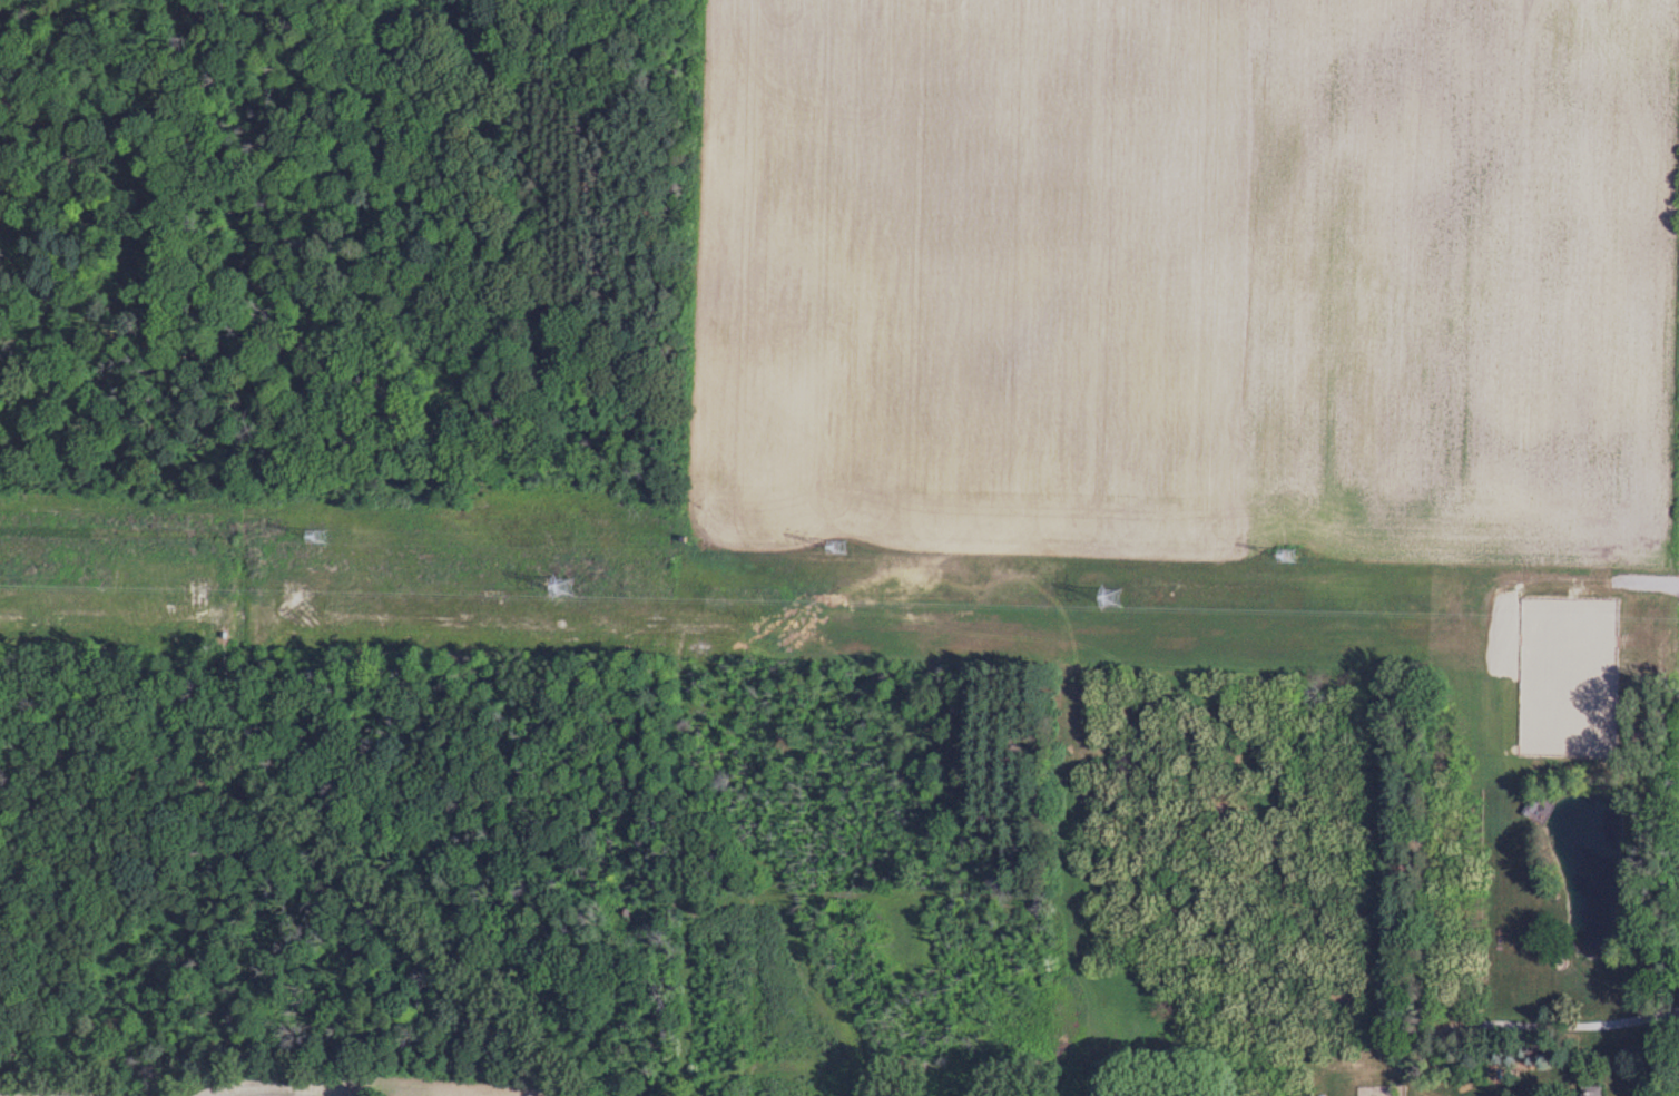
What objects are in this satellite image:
power tower: (323, 540)
power tower: (842, 550)
power tower: (1290, 559)
power tower: (567, 593)
power tower: (1115, 603)
building: (1535, 809)
building: (1582, 1090)

